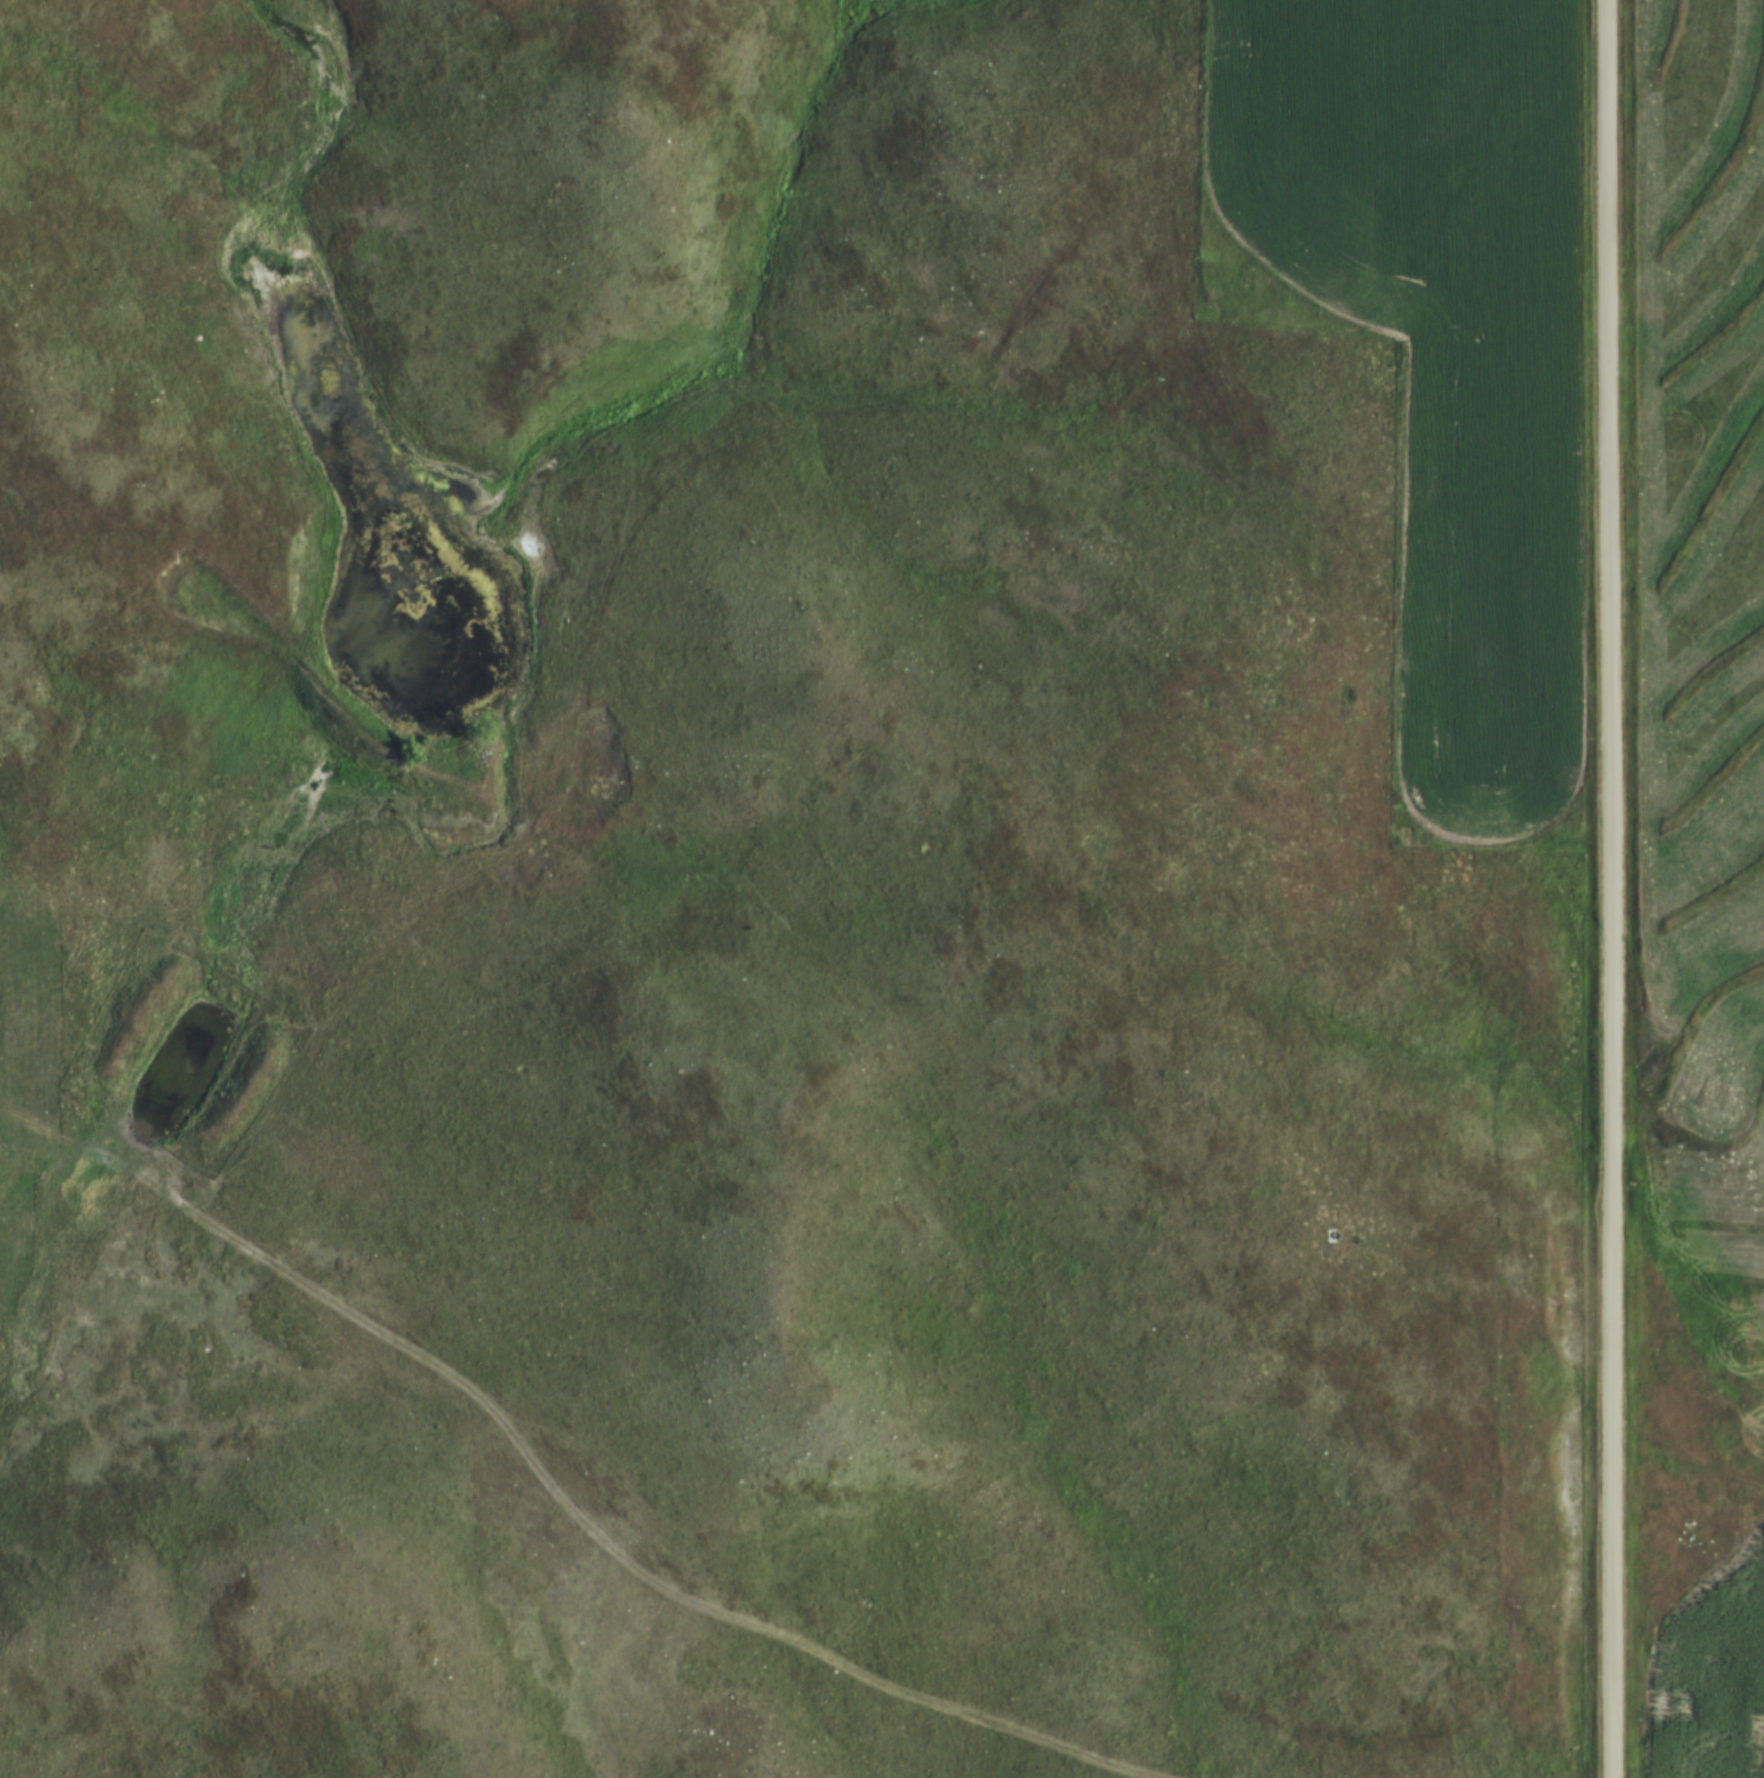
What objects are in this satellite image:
road: (1607, 888)

